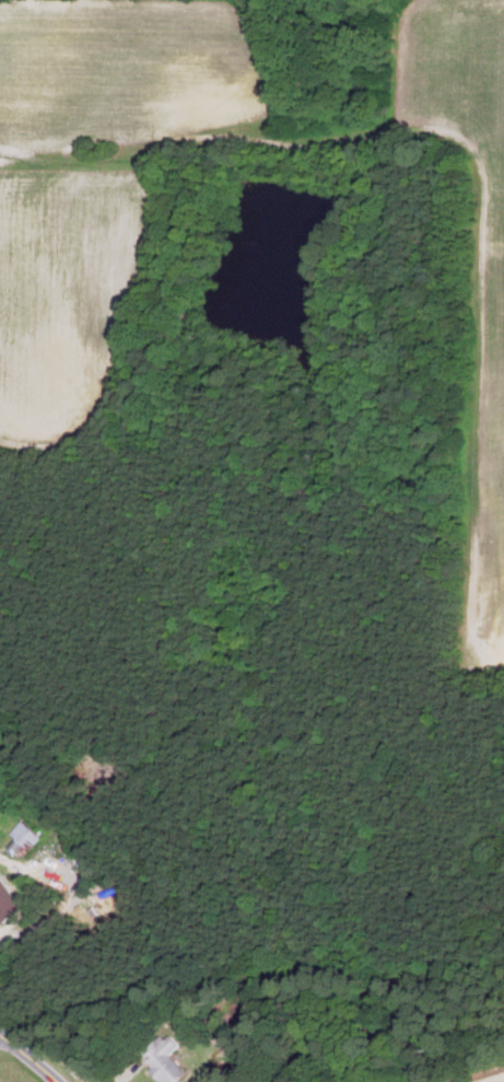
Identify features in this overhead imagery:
building: (22, 839)
road: (74, 894)
building: (2, 898)
road: (30, 1057)
building: (164, 1059)

